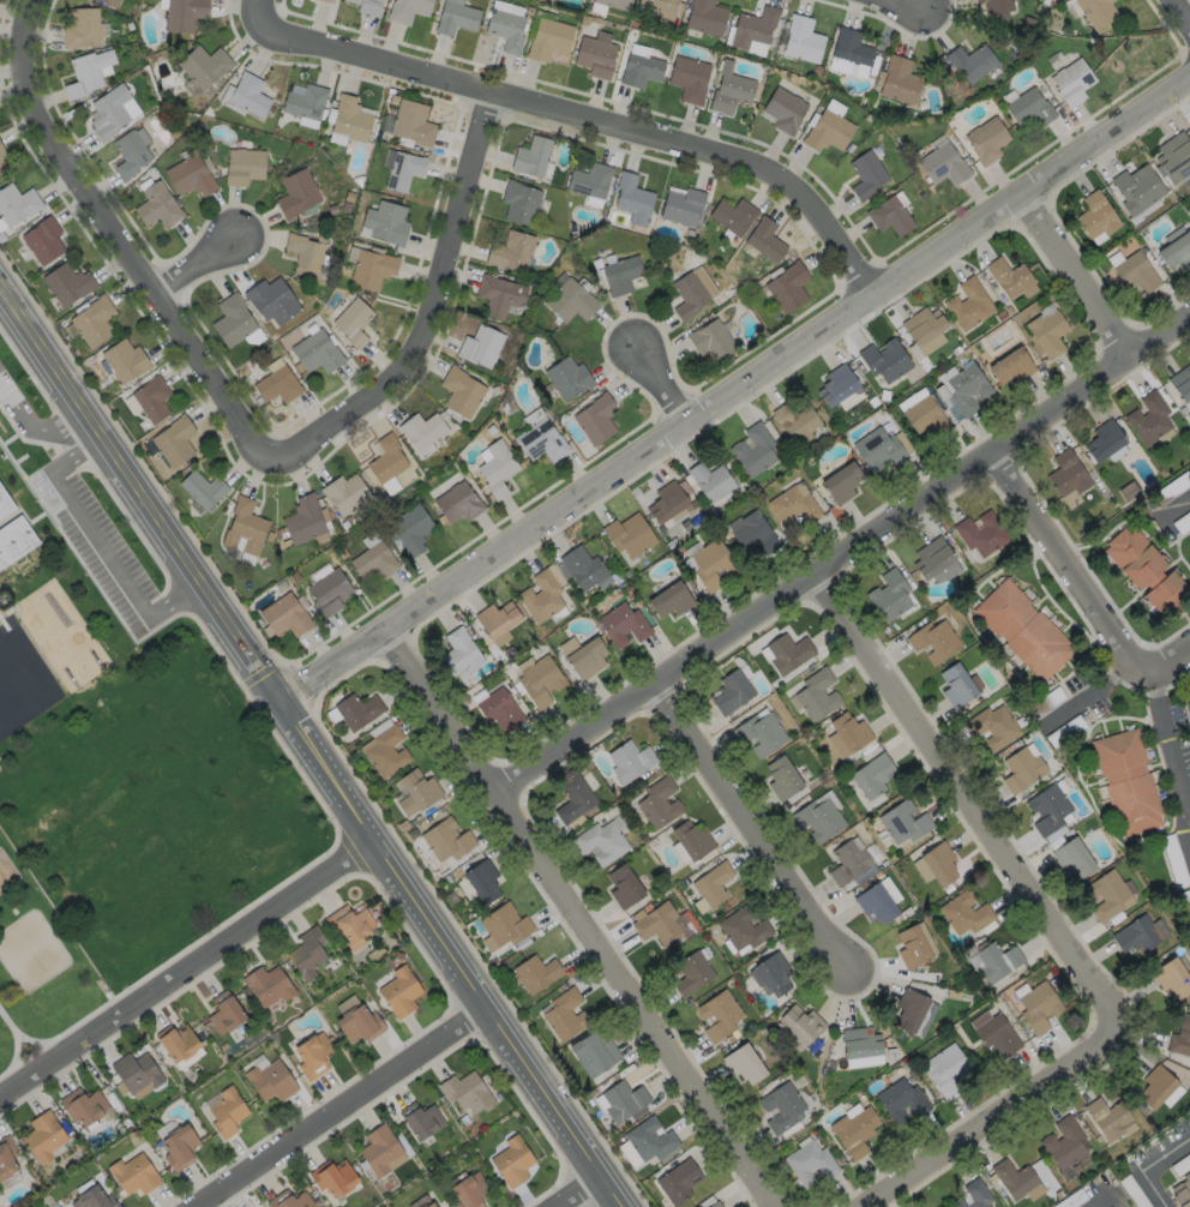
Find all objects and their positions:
building: (110, 1)
building: (326, 1)
building: (614, 4)
building: (657, 4)
road: (908, 4)
building: (367, 6)
building: (994, 6)
building: (407, 10)
building: (1095, 12)
building: (182, 13)
road: (1179, 13)
building: (453, 16)
building: (704, 16)
building: (752, 25)
building: (80, 26)
building: (504, 28)
building: (547, 37)
building: (801, 37)
building: (848, 46)
building: (593, 55)
building: (969, 62)
building: (202, 65)
building: (639, 68)
building: (86, 72)
building: (687, 77)
building: (897, 78)
building: (1070, 82)
building: (729, 90)
building: (247, 94)
building: (303, 101)
building: (1027, 107)
building: (783, 108)
building: (108, 110)
road: (577, 116)
building: (348, 118)
building: (410, 121)
building: (827, 131)
building: (986, 140)
building: (1, 151)
building: (128, 154)
building: (530, 156)
building: (1173, 156)
building: (942, 164)
building: (242, 166)
building: (1, 168)
building: (402, 169)
building: (188, 175)
building: (865, 175)
building: (589, 179)
building: (1136, 188)
building: (295, 193)
building: (631, 198)
building: (518, 202)
building: (17, 203)
building: (156, 204)
building: (680, 204)
building: (732, 214)
building: (1095, 215)
building: (889, 216)
building: (385, 222)
building: (42, 239)
building: (763, 239)
road: (120, 245)
building: (1174, 248)
building: (510, 251)
building: (303, 253)
road: (199, 269)
building: (371, 269)
building: (1135, 272)
building: (619, 274)
building: (1006, 276)
road: (1078, 278)
building: (66, 283)
building: (786, 286)
building: (687, 294)
building: (498, 295)
building: (271, 300)
building: (570, 300)
building: (967, 304)
road: (425, 311)
building: (232, 319)
building: (92, 320)
building: (351, 322)
building: (921, 324)
building: (1045, 331)
building: (709, 340)
building: (479, 346)
building: (315, 352)
building: (883, 359)
building: (125, 360)
building: (1009, 365)
building: (566, 377)
building: (1180, 383)
building: (835, 384)
building: (276, 385)
building: (964, 388)
road: (662, 389)
building: (459, 391)
road: (734, 391)
building: (151, 398)
building: (922, 414)
building: (595, 418)
building: (1147, 418)
building: (794, 421)
road: (34, 430)
building: (420, 430)
building: (1102, 440)
building: (174, 442)
building: (540, 443)
building: (752, 448)
building: (876, 448)
road: (78, 450)
building: (385, 458)
building: (495, 467)
building: (1065, 473)
building: (709, 479)
building: (839, 481)
building: (202, 488)
building: (343, 493)
building: (665, 500)
building: (457, 502)
building: (7, 504)
building: (792, 504)
road: (1177, 505)
building: (302, 520)
building: (244, 527)
building: (410, 527)
building: (752, 530)
building: (627, 533)
building: (979, 533)
building: (16, 542)
road: (96, 546)
building: (930, 557)
road: (1070, 558)
building: (373, 560)
building: (708, 562)
building: (582, 566)
road: (846, 569)
building: (1142, 569)
building: (327, 589)
building: (888, 594)
building: (541, 595)
road: (178, 596)
building: (668, 598)
building: (283, 614)
building: (497, 618)
building: (621, 623)
building: (1021, 629)
building: (932, 639)
building: (461, 650)
building: (787, 653)
building: (585, 656)
road: (1166, 661)
building: (539, 679)
building: (955, 684)
road: (1095, 691)
building: (731, 692)
building: (816, 695)
building: (499, 708)
building: (356, 709)
building: (991, 725)
building: (849, 732)
building: (758, 733)
road: (311, 747)
building: (385, 750)
road: (1165, 756)
building: (629, 759)
building: (1020, 768)
building: (871, 775)
building: (781, 779)
building: (1126, 781)
building: (416, 791)
building: (572, 795)
road: (957, 798)
building: (657, 801)
building: (1046, 807)
building: (817, 819)
building: (902, 822)
road: (739, 833)
building: (445, 839)
building: (690, 840)
building: (600, 841)
building: (1070, 858)
building: (847, 863)
building: (938, 864)
park: (6, 878)
building: (481, 879)
building: (711, 883)
building: (623, 885)
building: (1106, 894)
building: (875, 903)
building: (963, 913)
road: (579, 920)
building: (656, 923)
building: (348, 924)
building: (504, 924)
building: (741, 927)
building: (1134, 935)
building: (910, 947)
park: (31, 951)
building: (306, 951)
building: (996, 961)
park: (32, 966)
road: (187, 969)
building: (536, 972)
building: (691, 973)
building: (773, 973)
building: (1171, 977)
building: (266, 984)
building: (398, 991)
building: (1036, 1007)
building: (909, 1009)
building: (223, 1011)
building: (565, 1013)
building: (717, 1014)
building: (357, 1022)
building: (801, 1022)
building: (996, 1034)
road: (14, 1035)
building: (1179, 1037)
building: (176, 1041)
building: (859, 1041)
building: (594, 1052)
building: (311, 1055)
building: (743, 1063)
building: (945, 1068)
building: (136, 1071)
building: (269, 1080)
building: (1154, 1085)
building: (465, 1092)
building: (623, 1099)
building: (900, 1099)
building: (85, 1106)
building: (780, 1106)
road: (337, 1107)
building: (224, 1112)
road: (986, 1115)
building: (1106, 1117)
building: (420, 1119)
building: (853, 1130)
building: (43, 1136)
building: (648, 1139)
building: (1063, 1141)
building: (178, 1147)
building: (378, 1149)
building: (6, 1158)
building: (510, 1161)
building: (807, 1161)
road: (1147, 1165)
building: (132, 1173)
building: (1012, 1177)
building: (331, 1178)
building: (677, 1181)
building: (470, 1191)
road: (579, 1191)
building: (1179, 1194)
building: (974, 1195)
building: (95, 1199)
building: (292, 1200)
road: (1102, 1201)
building: (429, 1205)
building: (715, 1205)
building: (420, 1206)

